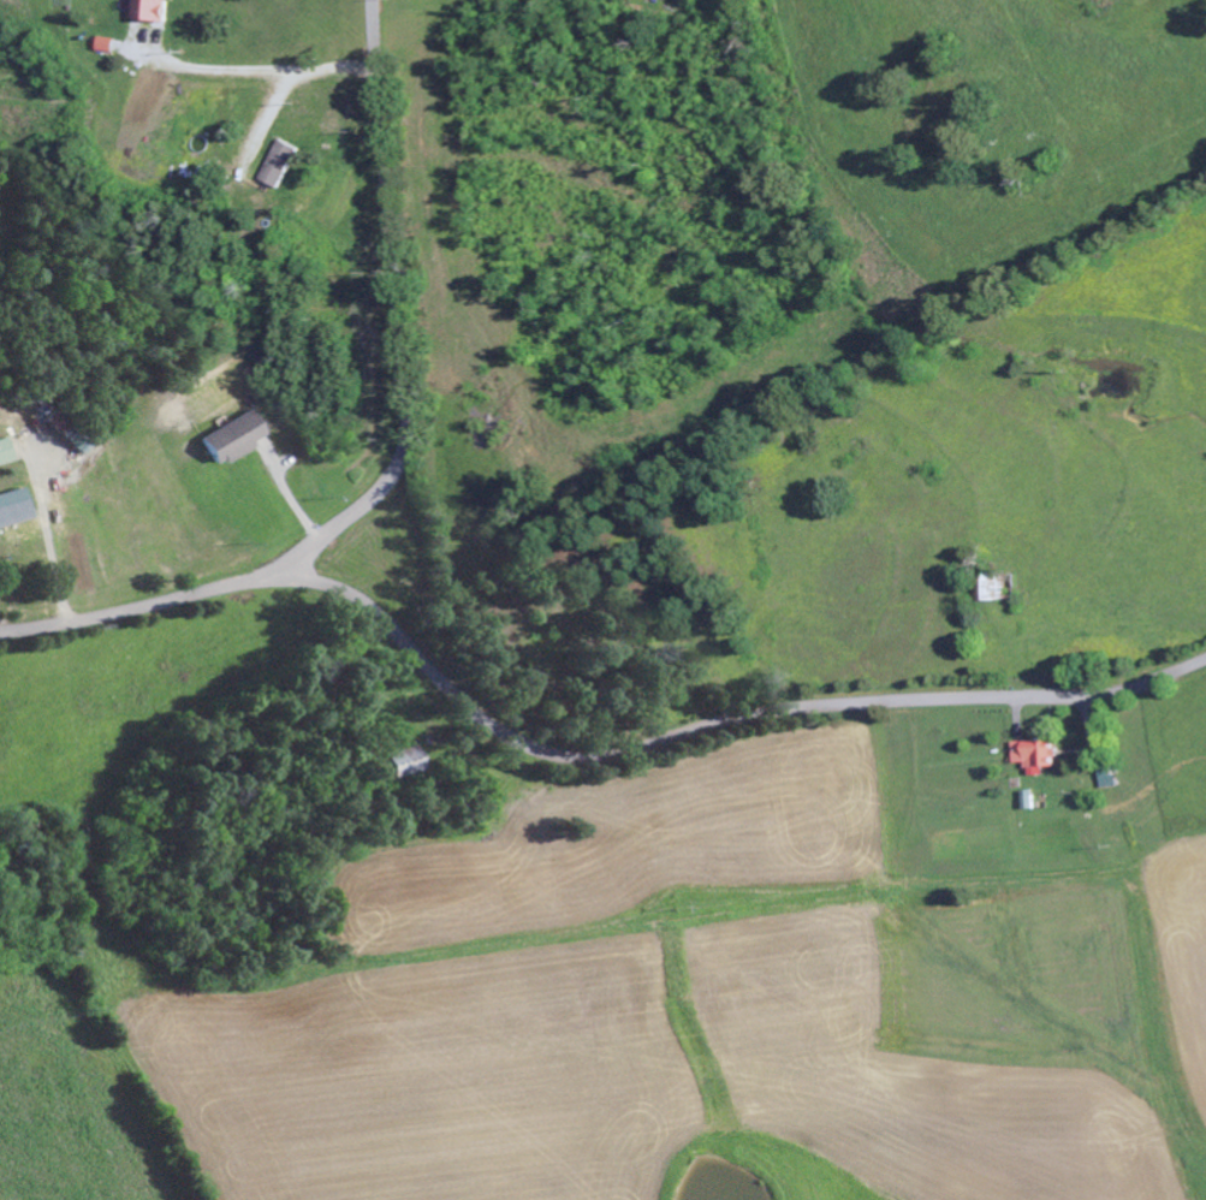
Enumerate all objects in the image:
building: (150, 10)
building: (106, 44)
building: (281, 164)
road: (396, 320)
building: (79, 439)
building: (232, 439)
building: (5, 451)
building: (13, 507)
building: (1035, 755)
road: (574, 760)
building: (396, 764)
building: (1029, 800)

